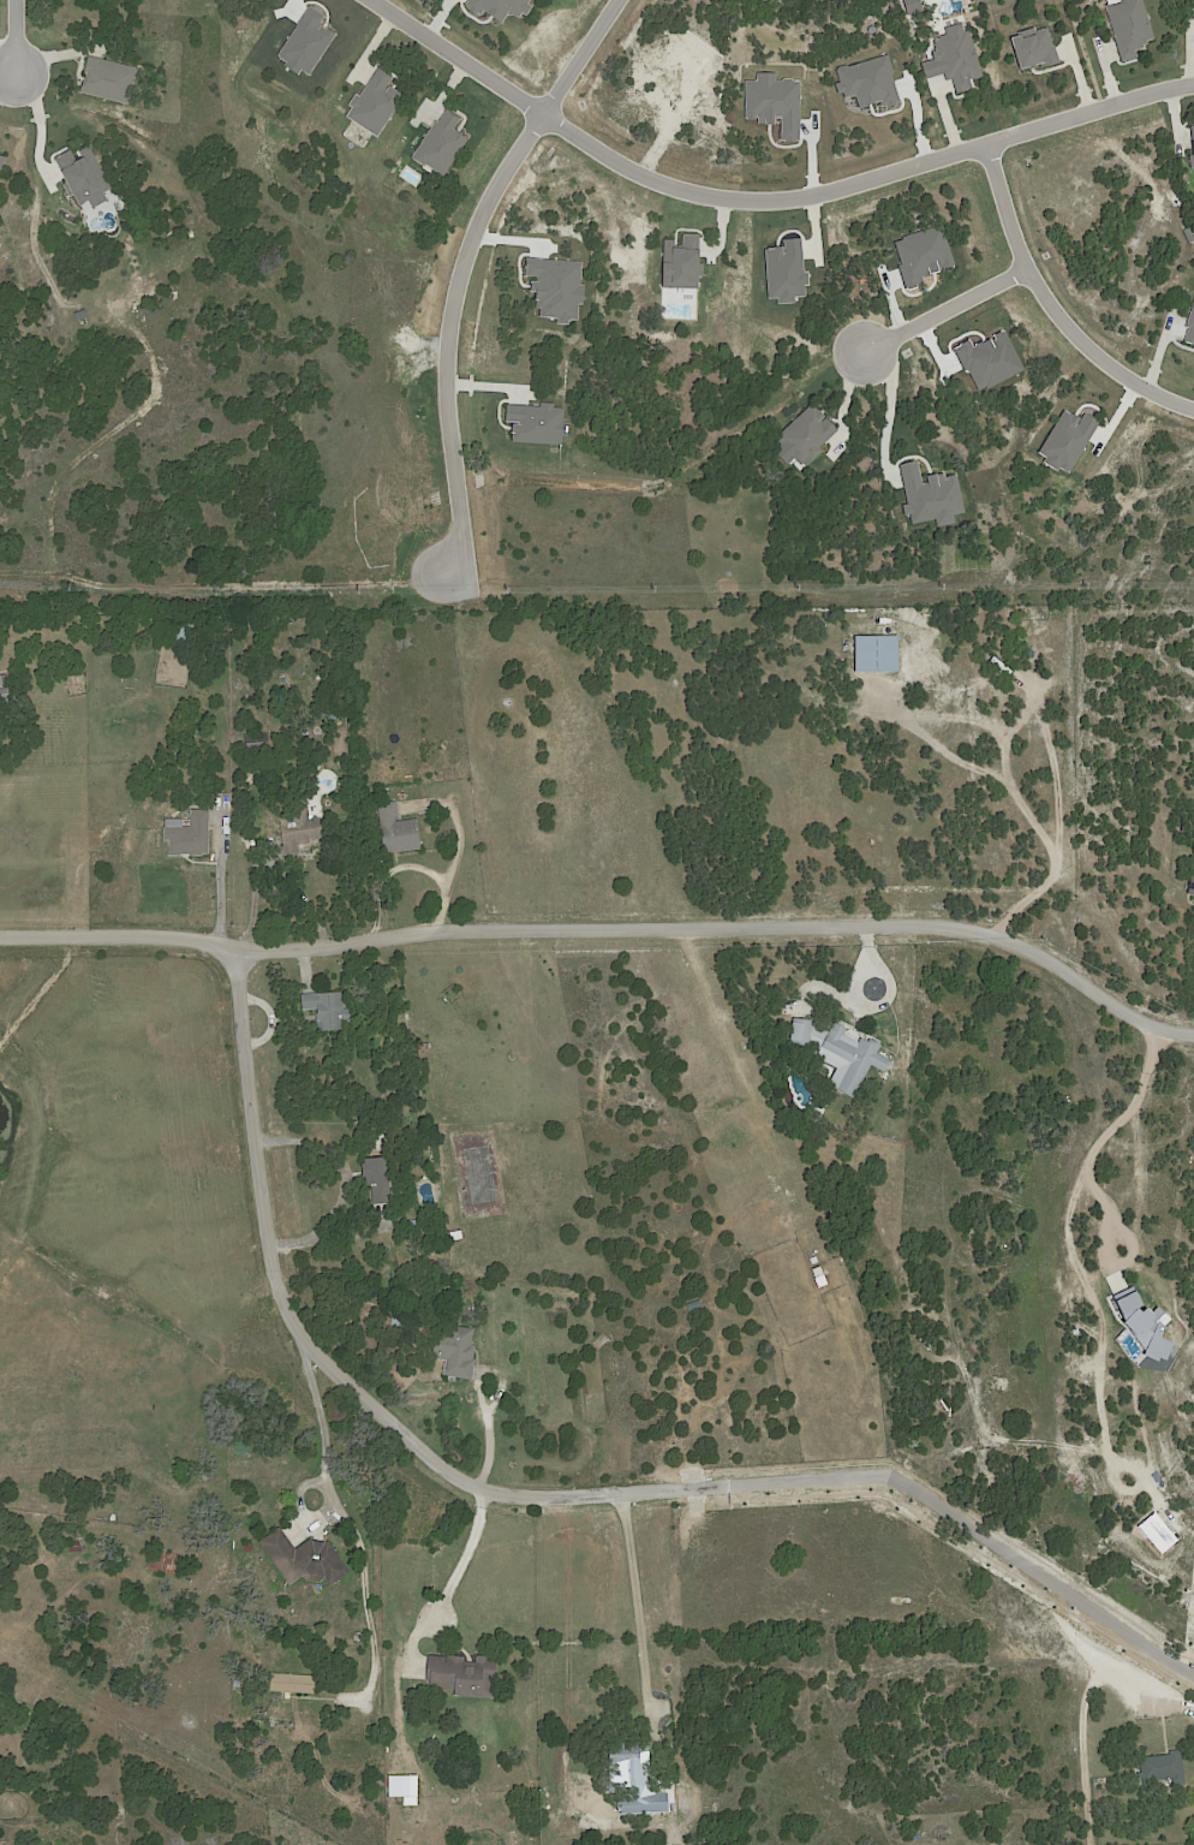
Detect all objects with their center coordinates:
road: (11, 40)
road: (756, 197)
road: (456, 272)
road: (1047, 308)
road: (945, 309)
road: (892, 403)
building: (186, 632)
building: (5, 688)
building: (369, 731)
building: (253, 743)
building: (386, 792)
building: (300, 829)
building: (399, 829)
building: (1190, 883)
road: (256, 889)
building: (1193, 900)
road: (608, 927)
building: (329, 1010)
building: (425, 1049)
building: (841, 1054)
road: (1142, 1101)
building: (380, 1180)
building: (414, 1225)
building: (452, 1292)
building: (399, 1323)
building: (458, 1352)
road: (480, 1398)
road: (322, 1420)
road: (550, 1494)
building: (77, 1546)
building: (250, 1548)
road: (471, 1557)
building: (306, 1558)
building: (166, 1564)
road: (639, 1608)
road: (366, 1609)
building: (465, 1677)
building: (239, 1684)
building: (294, 1684)
building: (245, 1709)
road: (1089, 1758)
building: (362, 1762)
building: (1160, 1769)
building: (634, 1775)
building: (396, 1786)
power tower: (253, 1798)

